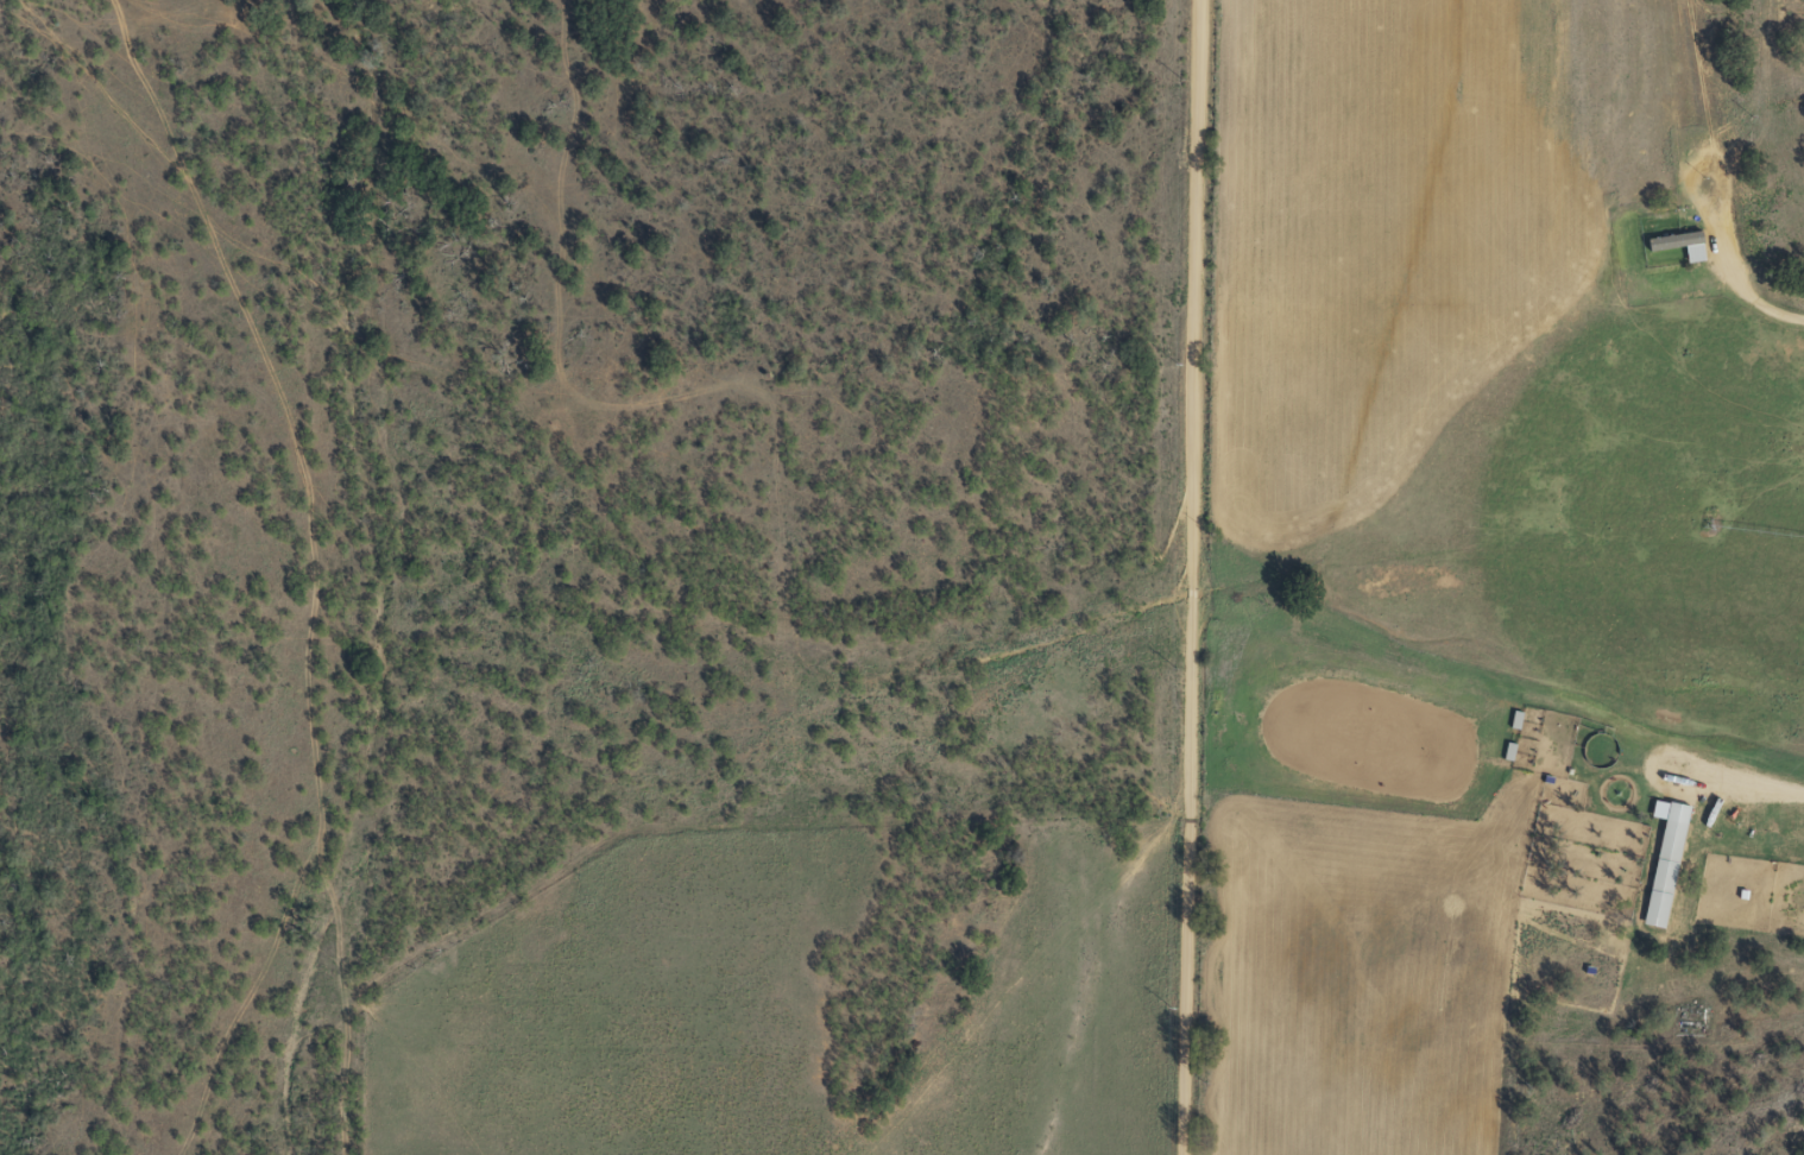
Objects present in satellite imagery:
building: (1682, 244)
road: (1231, 577)
building: (1666, 861)

